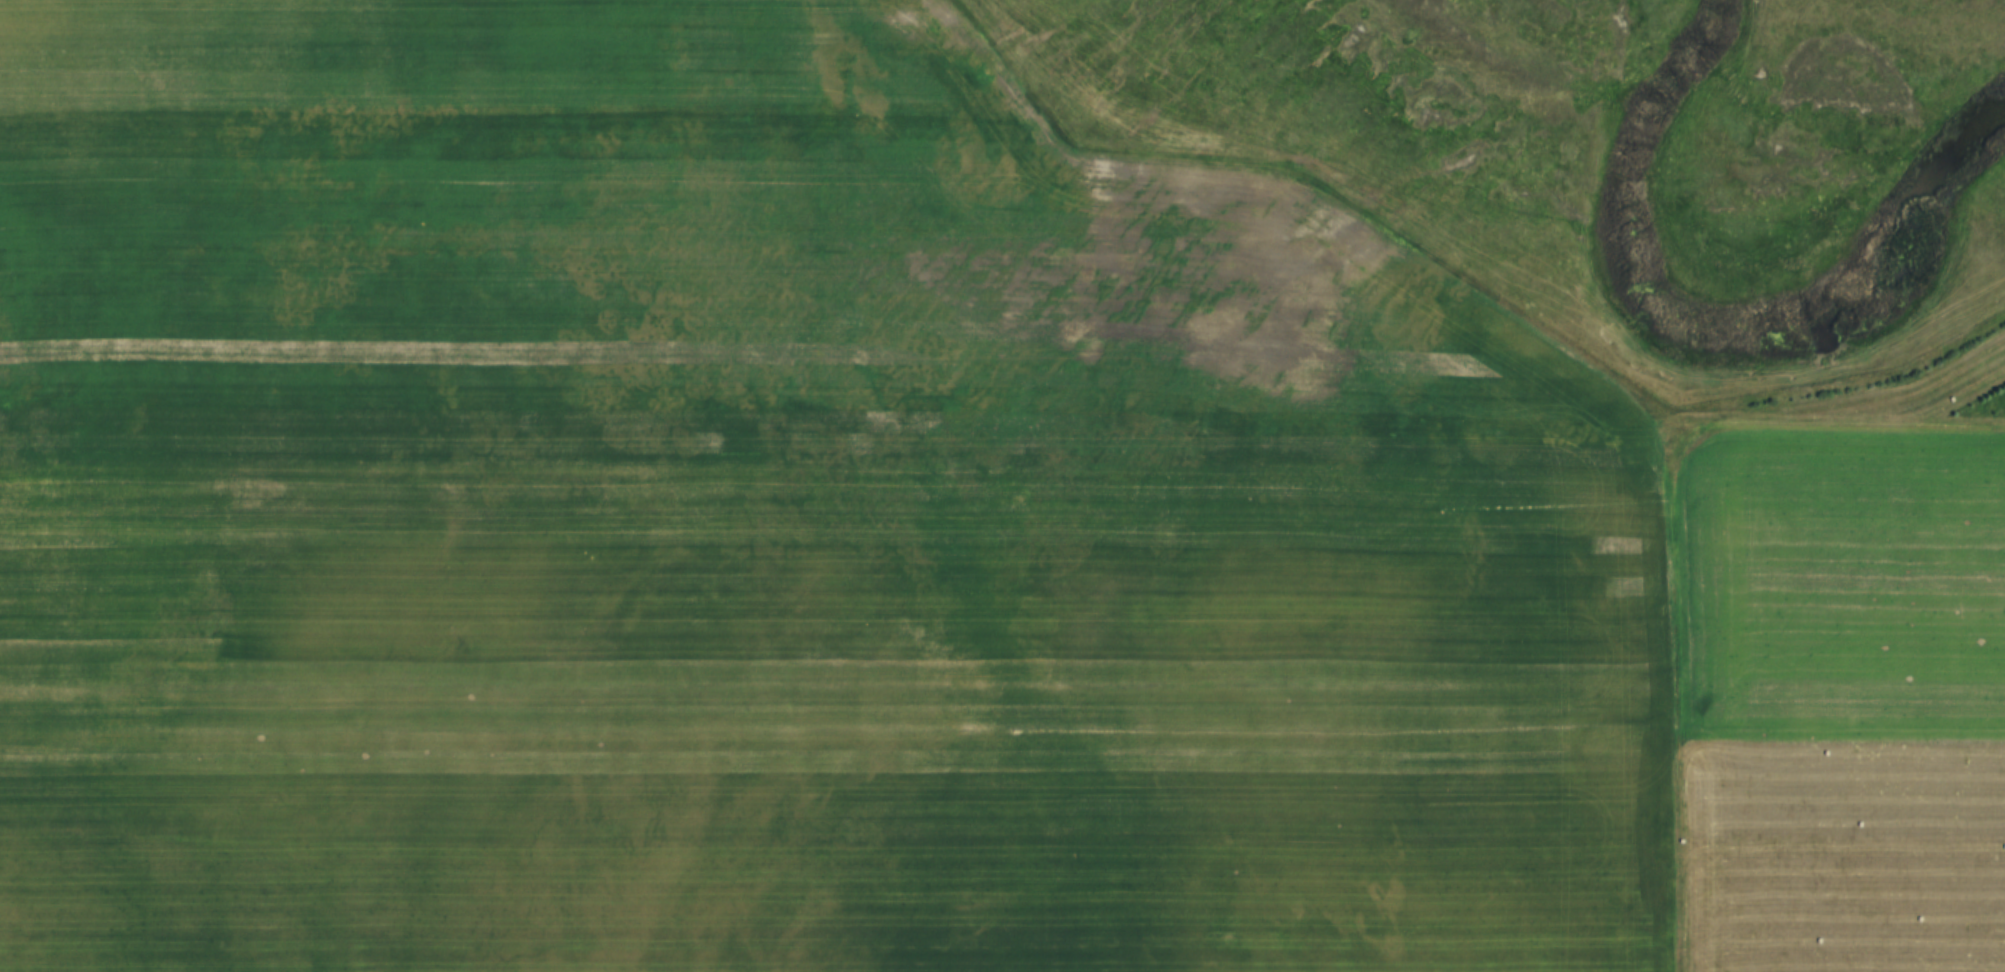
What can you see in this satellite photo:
road: (1668, 539)

